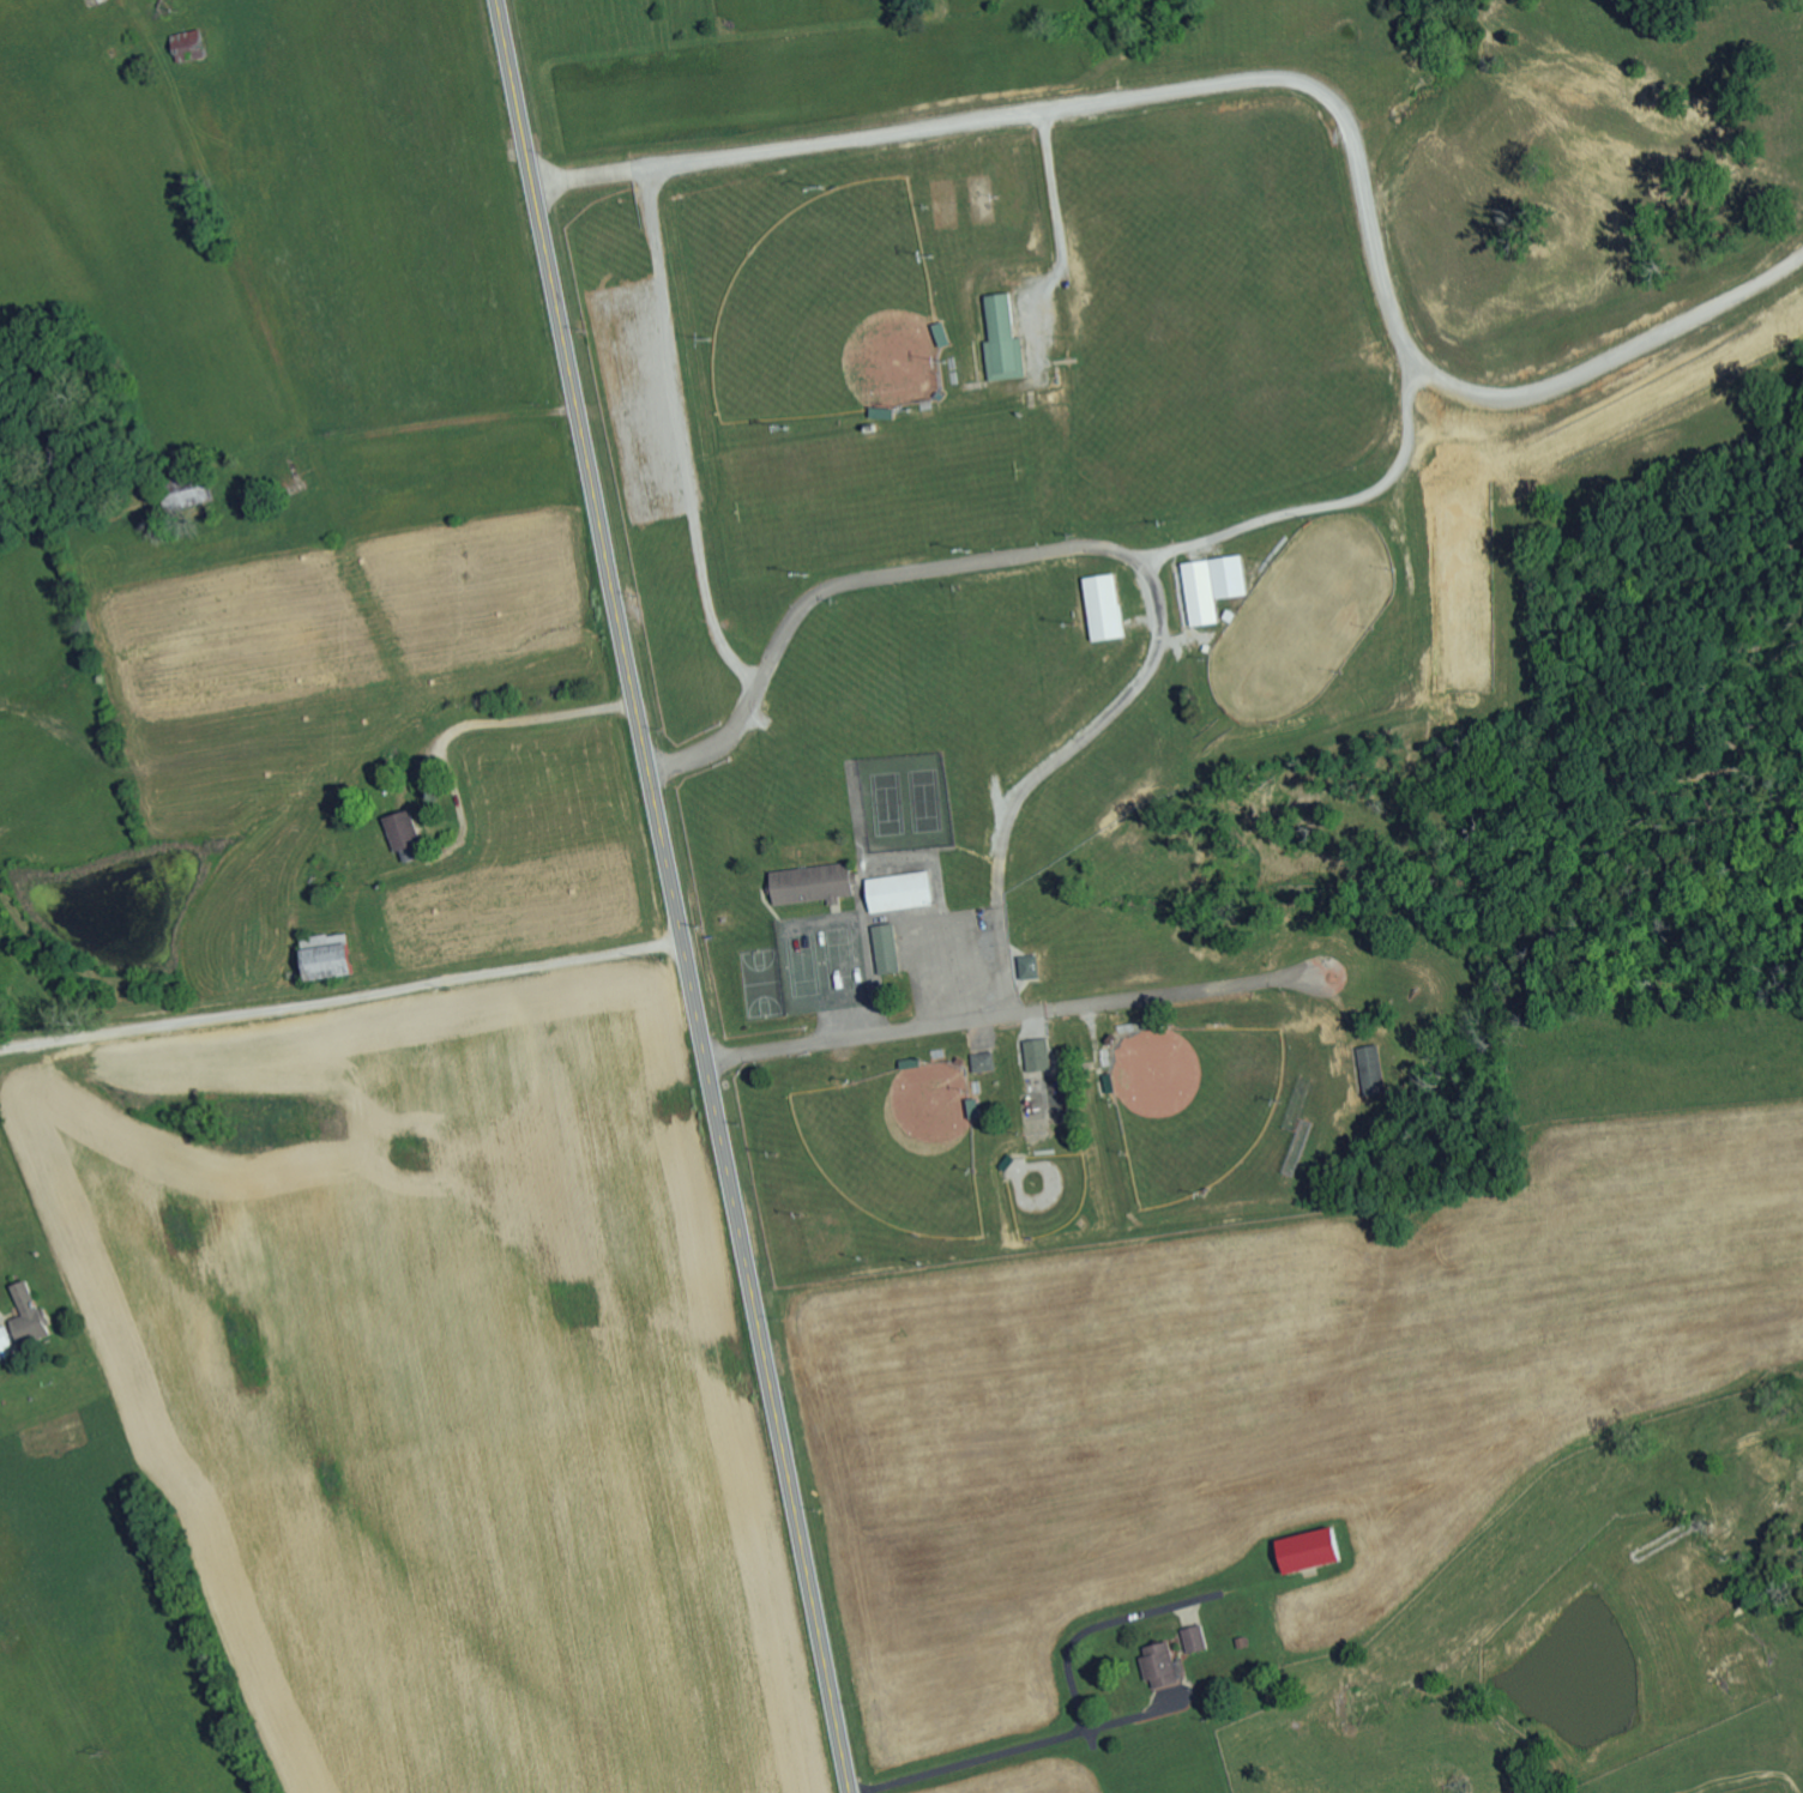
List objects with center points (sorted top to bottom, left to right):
building: (187, 44)
building: (1000, 340)
road: (1365, 493)
road: (1109, 553)
building: (1211, 586)
building: (1103, 606)
park: (996, 629)
building: (403, 835)
road: (873, 864)
building: (810, 883)
building: (899, 892)
road: (675, 895)
road: (911, 917)
building: (885, 948)
building: (324, 956)
building: (1029, 966)
road: (342, 1001)
road: (1025, 1013)
building: (1036, 1055)
building: (983, 1062)
building: (1371, 1071)
building: (26, 1316)
building: (2, 1341)
building: (1308, 1551)
building: (1194, 1640)
building: (1159, 1665)
road: (1015, 1670)

